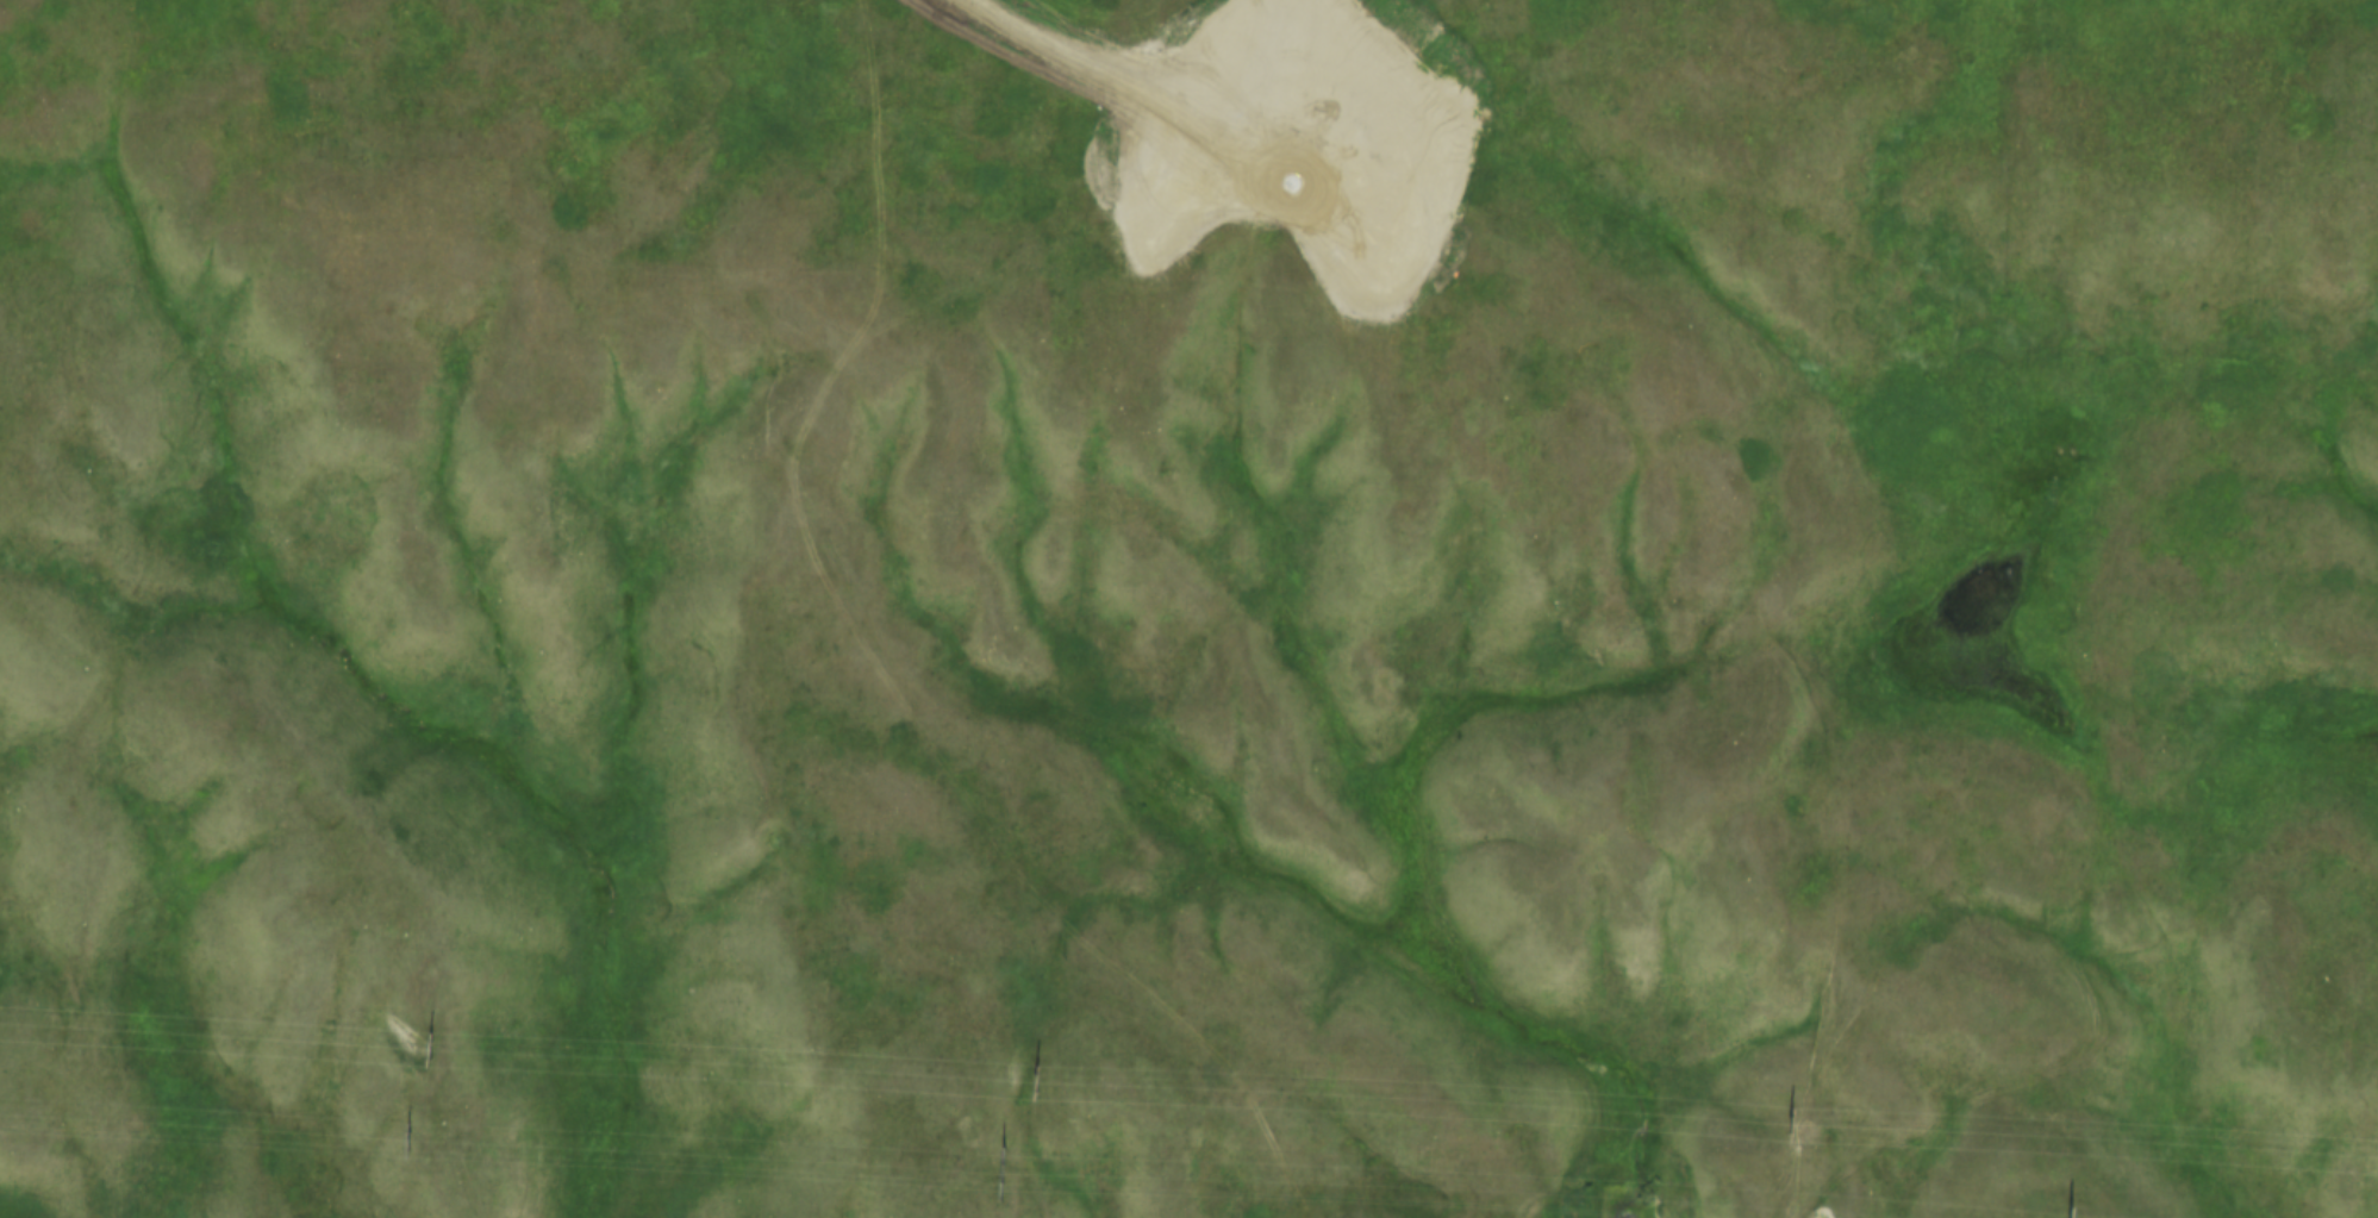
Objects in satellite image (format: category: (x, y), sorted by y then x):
wind turbine: (1284, 175)
power tower: (407, 1139)
power tower: (993, 1172)

